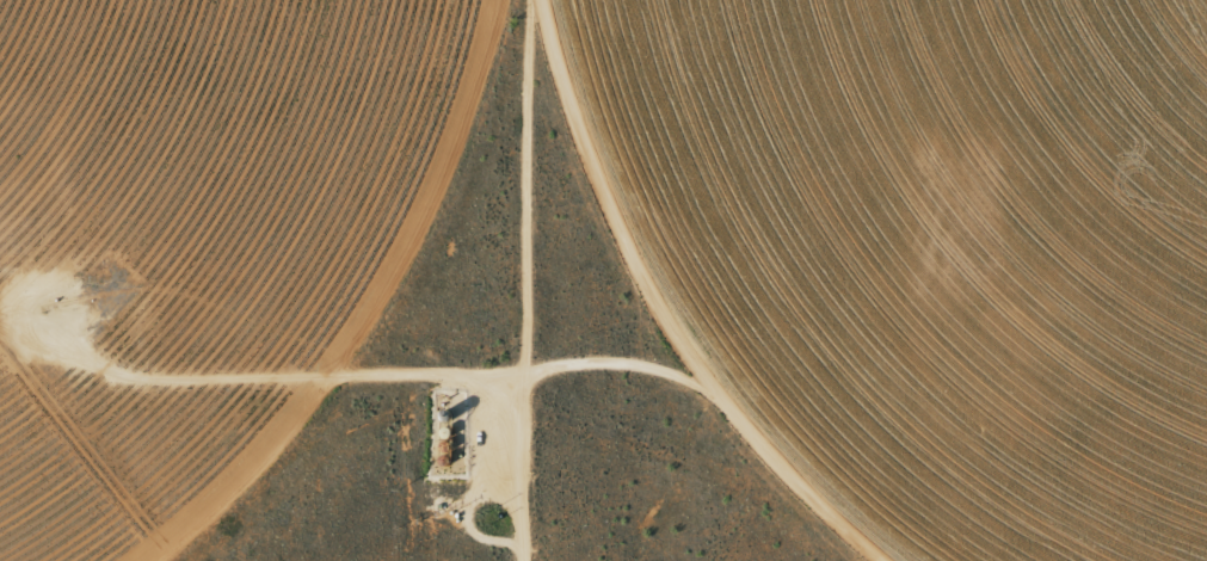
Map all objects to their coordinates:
road: (531, 171)
road: (364, 341)
road: (714, 343)

